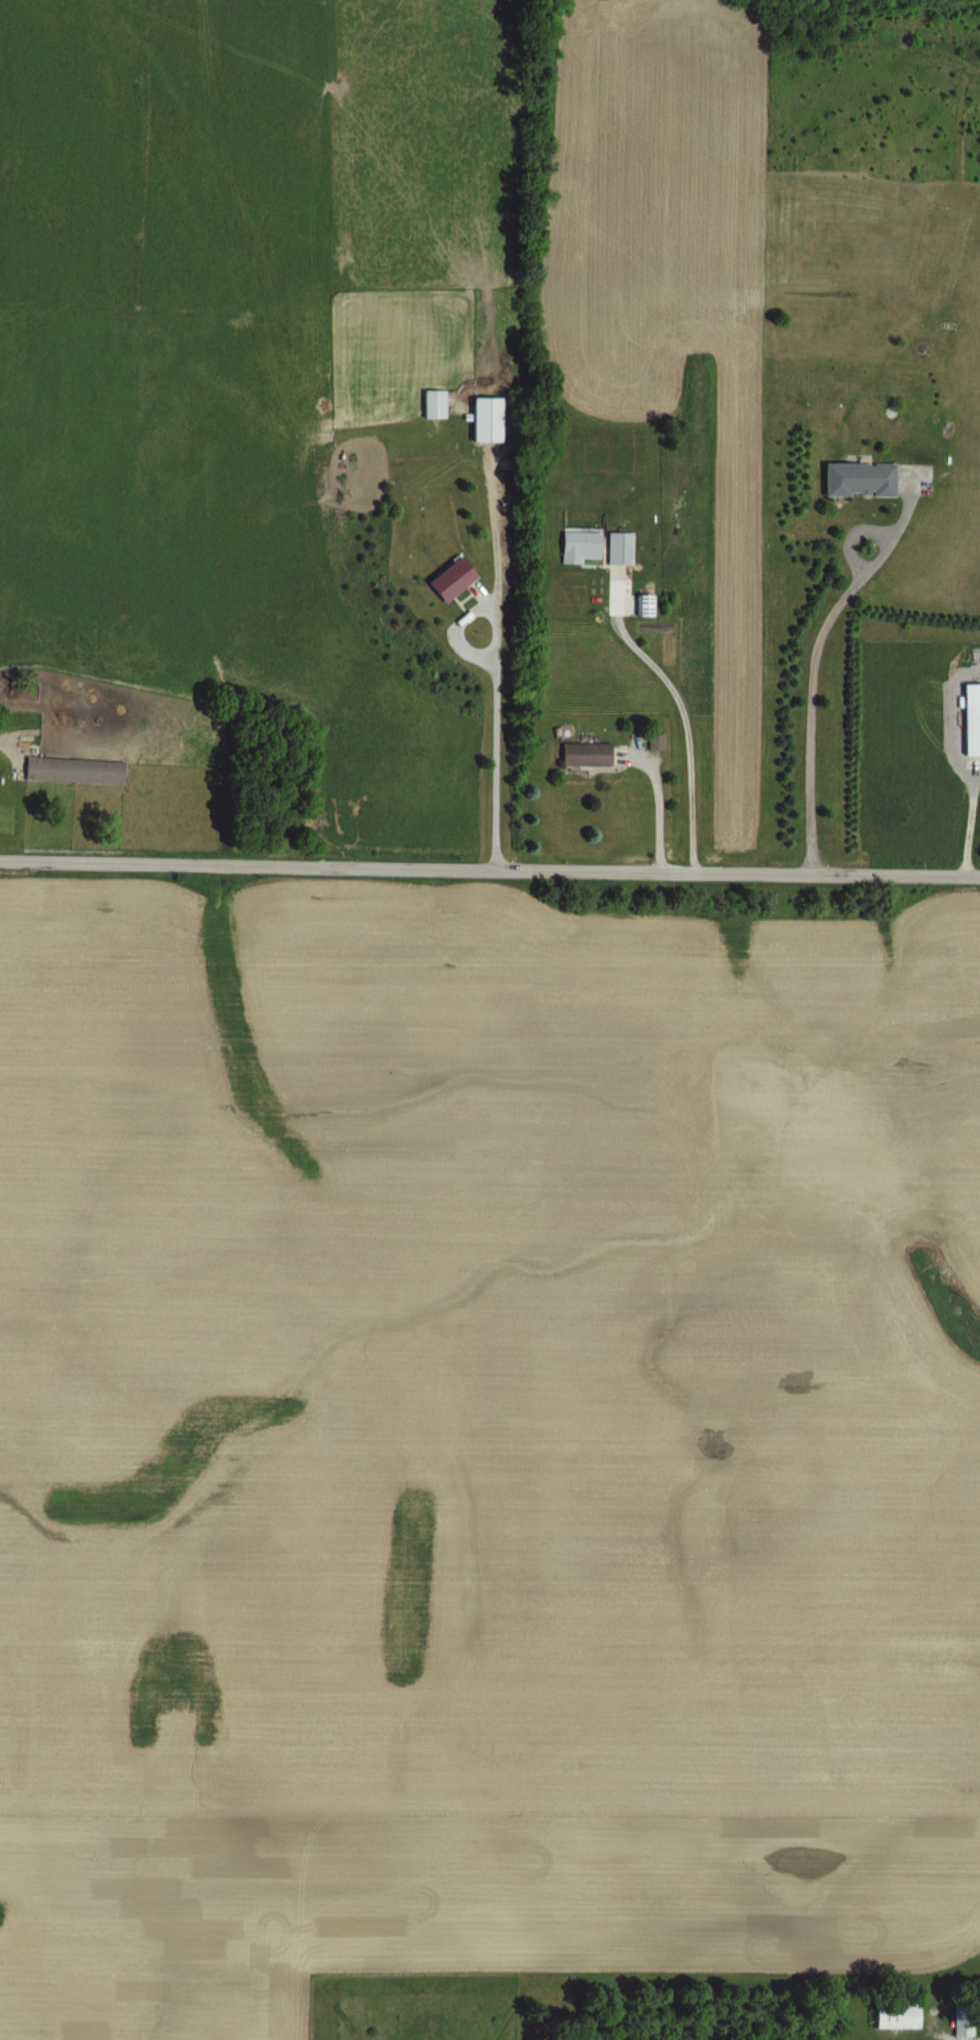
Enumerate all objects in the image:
crop: (154, 337)
building: (431, 404)
building: (482, 419)
building: (855, 480)
road: (907, 505)
building: (574, 544)
building: (614, 548)
building: (442, 578)
building: (639, 604)
road: (489, 628)
road: (816, 645)
road: (463, 654)
road: (677, 708)
building: (969, 719)
building: (651, 740)
road: (5, 744)
building: (580, 753)
building: (69, 766)
park: (272, 780)
road: (653, 797)
road: (968, 816)
road: (490, 868)
crop: (489, 1453)
building: (892, 2015)
road: (930, 2038)

